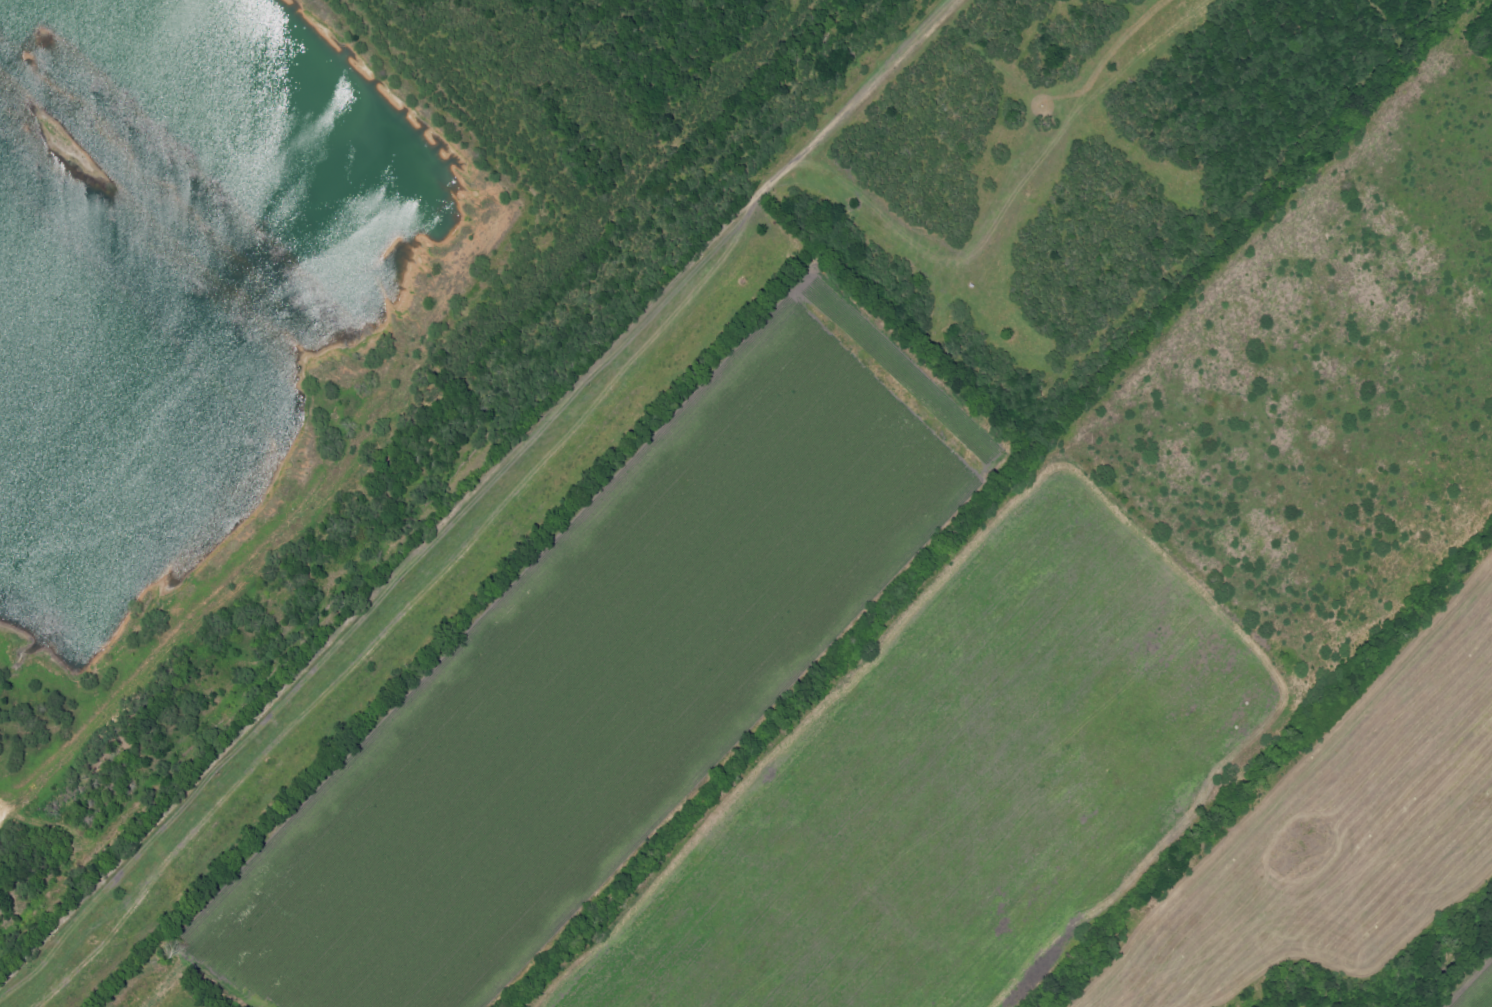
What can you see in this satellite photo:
road: (278, 108)
road: (463, 494)
road: (275, 544)
crop: (1111, 617)
crop: (625, 673)
road: (16, 795)

